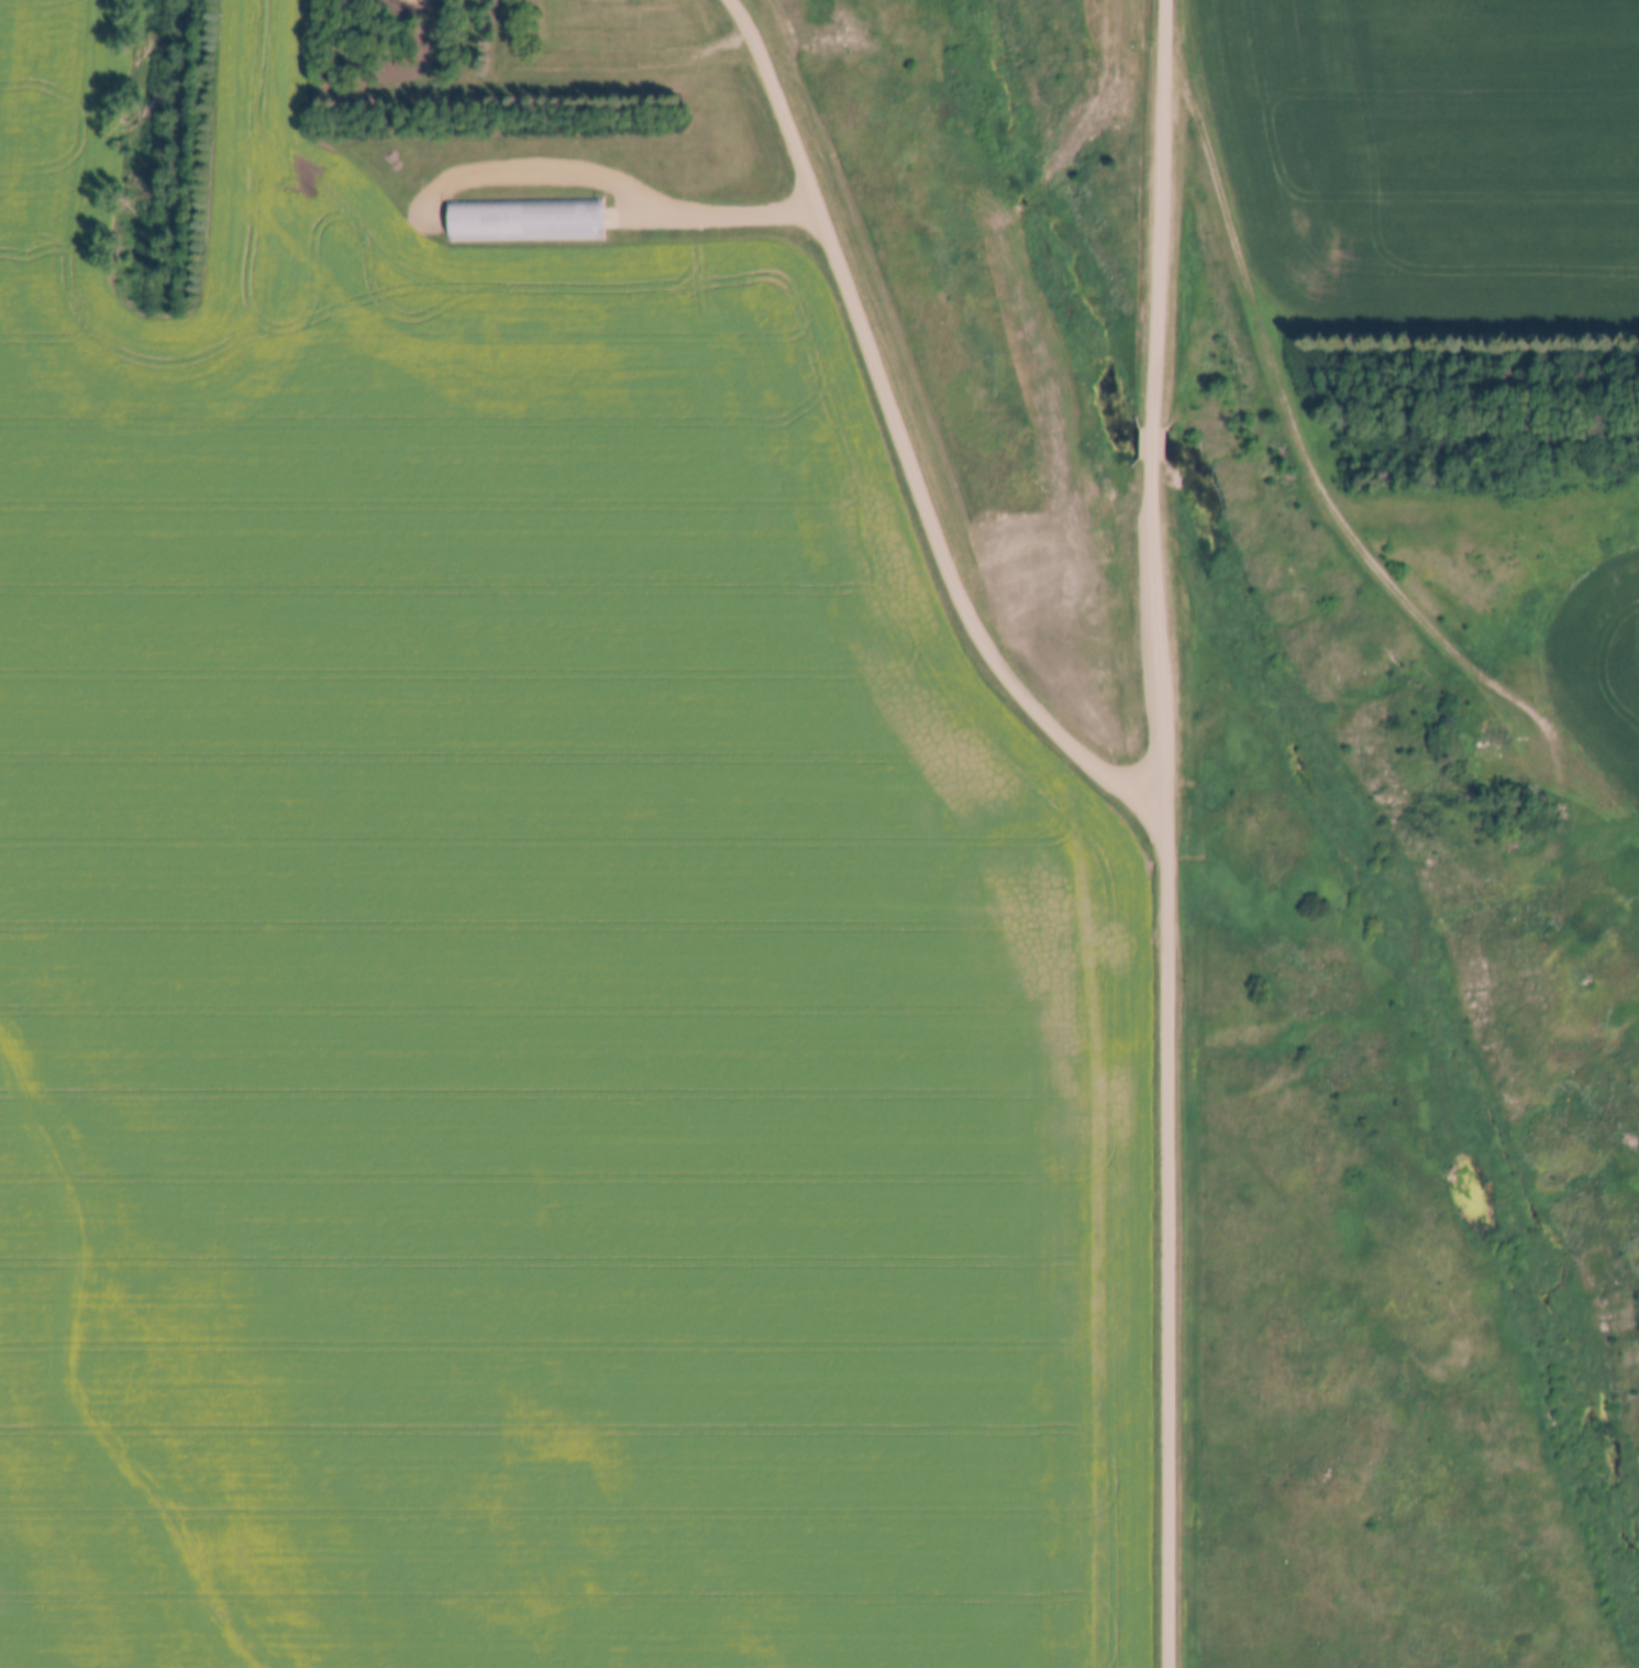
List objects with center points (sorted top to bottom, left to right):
road: (718, 206)
road: (1163, 212)
building: (527, 220)
road: (907, 432)
road: (1160, 441)
road: (1307, 445)
building: (1496, 742)
building: (1559, 811)
road: (1171, 1061)

